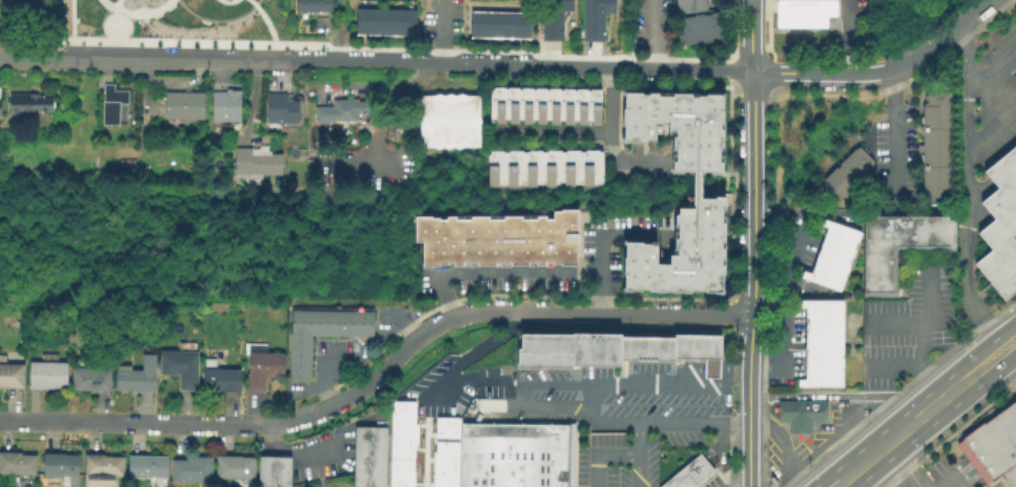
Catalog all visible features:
building: (227, 0)
road: (226, 2)
building: (8, 4)
road: (116, 4)
road: (255, 5)
building: (303, 5)
building: (320, 5)
building: (555, 5)
building: (597, 5)
building: (689, 5)
building: (803, 12)
road: (137, 15)
road: (125, 16)
building: (384, 20)
park: (169, 21)
road: (217, 21)
building: (498, 23)
building: (550, 24)
building: (592, 25)
road: (768, 25)
road: (268, 27)
building: (697, 27)
road: (74, 28)
road: (334, 30)
road: (441, 32)
road: (118, 34)
road: (650, 34)
road: (752, 35)
road: (845, 37)
road: (938, 43)
road: (385, 47)
road: (750, 47)
road: (274, 49)
road: (26, 55)
road: (266, 60)
road: (771, 61)
road: (616, 67)
road: (990, 68)
road: (815, 74)
road: (250, 98)
building: (27, 102)
building: (110, 102)
building: (0, 103)
building: (182, 103)
building: (225, 103)
building: (495, 103)
building: (509, 103)
building: (536, 103)
building: (523, 104)
building: (550, 104)
building: (564, 104)
building: (578, 105)
building: (592, 105)
building: (279, 107)
building: (342, 108)
road: (389, 111)
building: (447, 119)
building: (676, 125)
road: (990, 126)
road: (893, 129)
road: (547, 130)
road: (617, 131)
road: (606, 138)
building: (934, 143)
building: (254, 160)
building: (129, 161)
road: (368, 164)
building: (514, 167)
building: (533, 167)
building: (552, 167)
building: (571, 167)
building: (590, 167)
building: (495, 168)
building: (845, 172)
road: (694, 183)
road: (965, 193)
road: (595, 200)
building: (1000, 224)
building: (497, 238)
road: (580, 241)
road: (598, 243)
building: (896, 245)
building: (681, 251)
building: (832, 255)
road: (496, 272)
road: (753, 279)
flagpole: (974, 288)
road: (776, 291)
road: (763, 301)
road: (530, 316)
building: (299, 322)
building: (320, 322)
building: (340, 322)
building: (361, 322)
road: (894, 323)
road: (922, 337)
road: (1003, 338)
building: (821, 341)
building: (298, 347)
building: (613, 351)
road: (1005, 354)
building: (260, 365)
building: (179, 366)
building: (298, 368)
building: (46, 371)
road: (322, 371)
building: (10, 372)
building: (135, 375)
building: (90, 377)
building: (219, 378)
road: (926, 381)
road: (629, 387)
road: (845, 395)
road: (590, 402)
road: (543, 408)
building: (800, 416)
road: (918, 419)
road: (171, 424)
building: (492, 435)
building: (506, 435)
building: (519, 435)
building: (533, 436)
building: (561, 437)
building: (472, 440)
building: (400, 443)
road: (784, 444)
building: (993, 445)
road: (291, 449)
building: (444, 452)
building: (517, 455)
road: (599, 455)
building: (368, 456)
road: (636, 456)
building: (561, 460)
building: (15, 461)
building: (59, 463)
building: (102, 464)
building: (146, 465)
road: (905, 465)
building: (233, 466)
building: (191, 468)
building: (472, 468)
building: (272, 471)
building: (515, 472)
building: (691, 474)
building: (561, 478)
road: (908, 478)
building: (472, 482)
road: (744, 484)
road: (838, 484)

